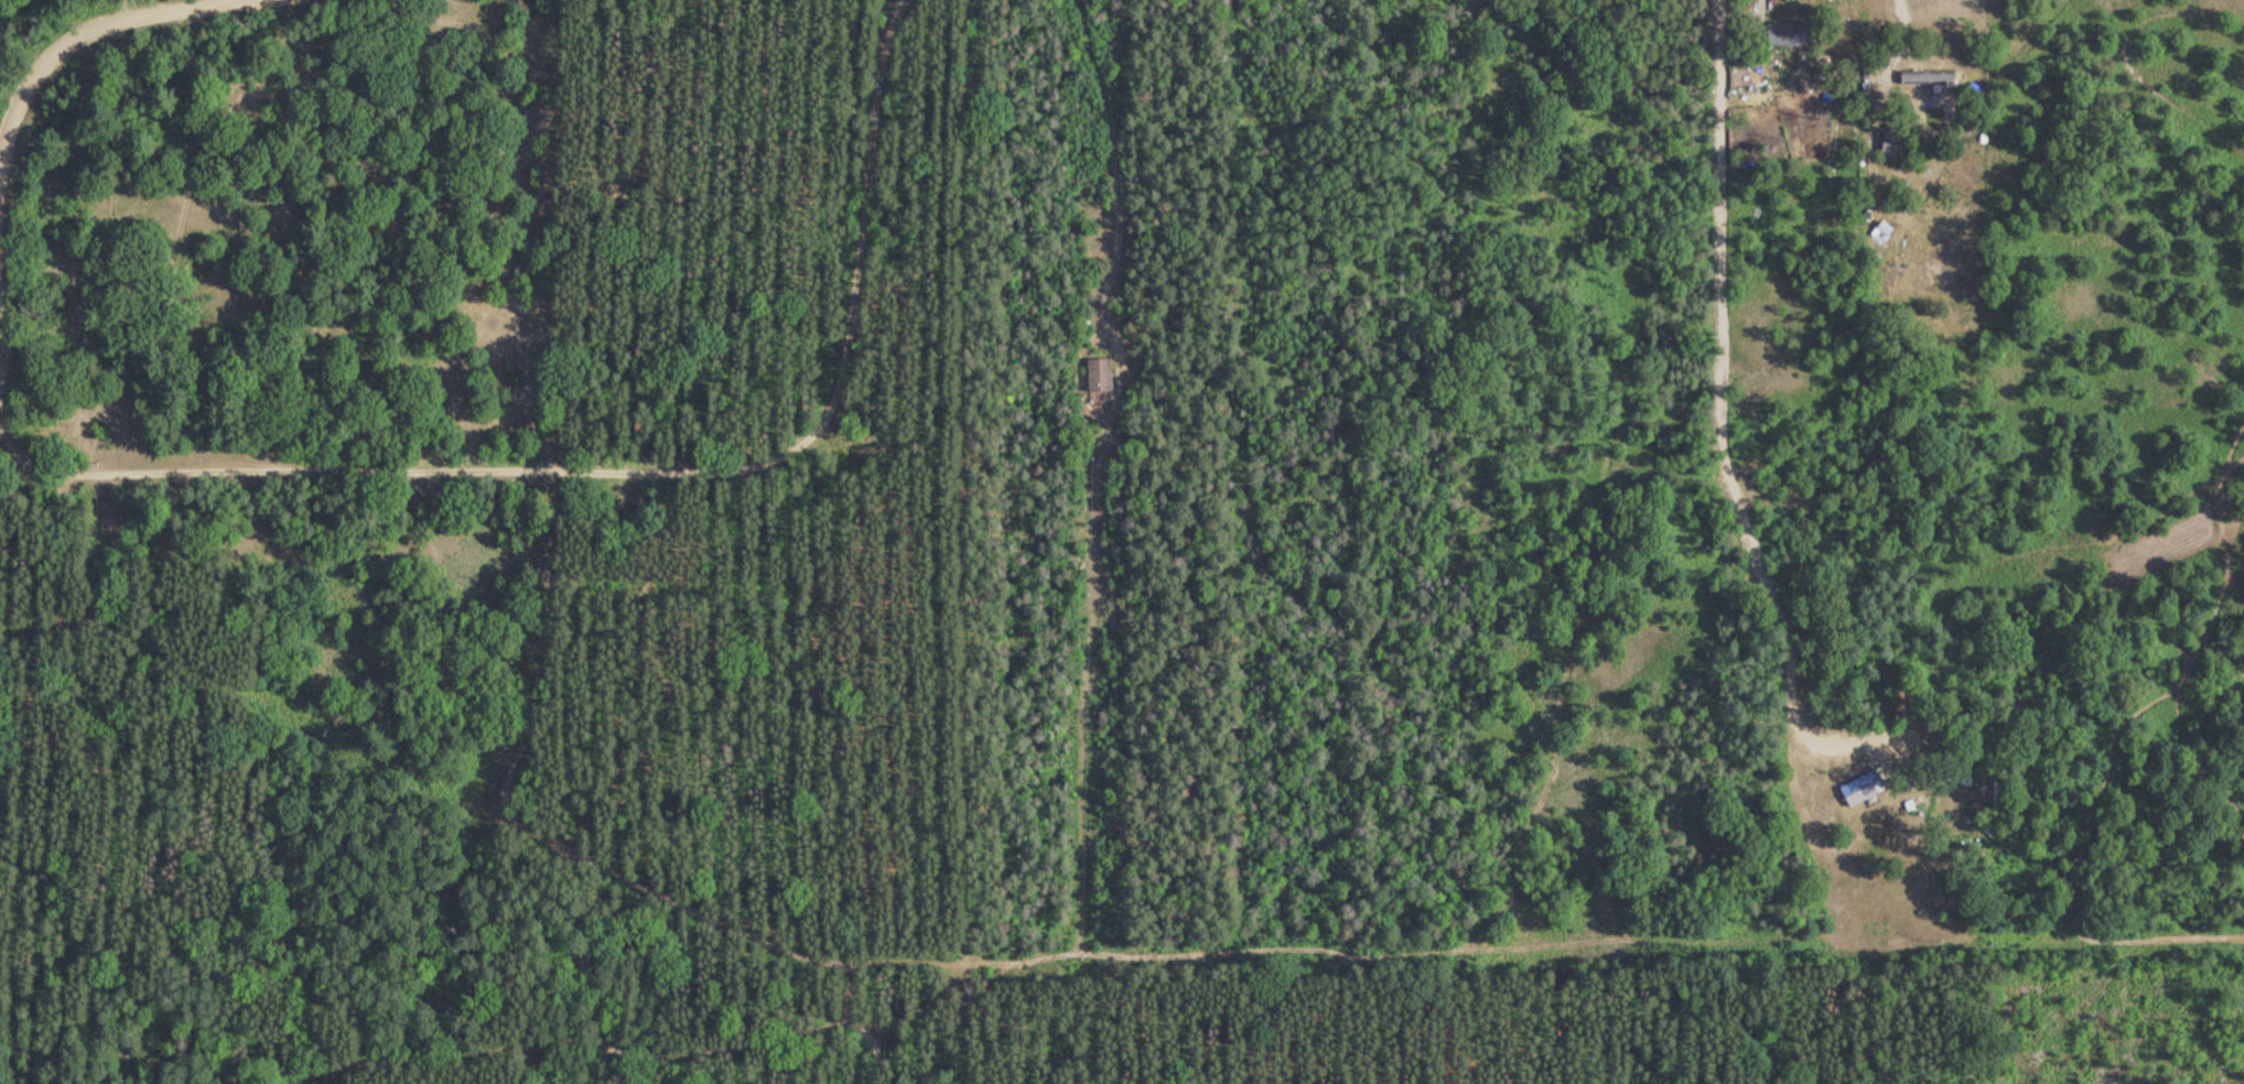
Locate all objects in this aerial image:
building: (1782, 34)
road: (69, 41)
building: (1923, 76)
building: (1885, 145)
building: (1878, 230)
building: (1096, 375)
road: (605, 412)
building: (1858, 788)

